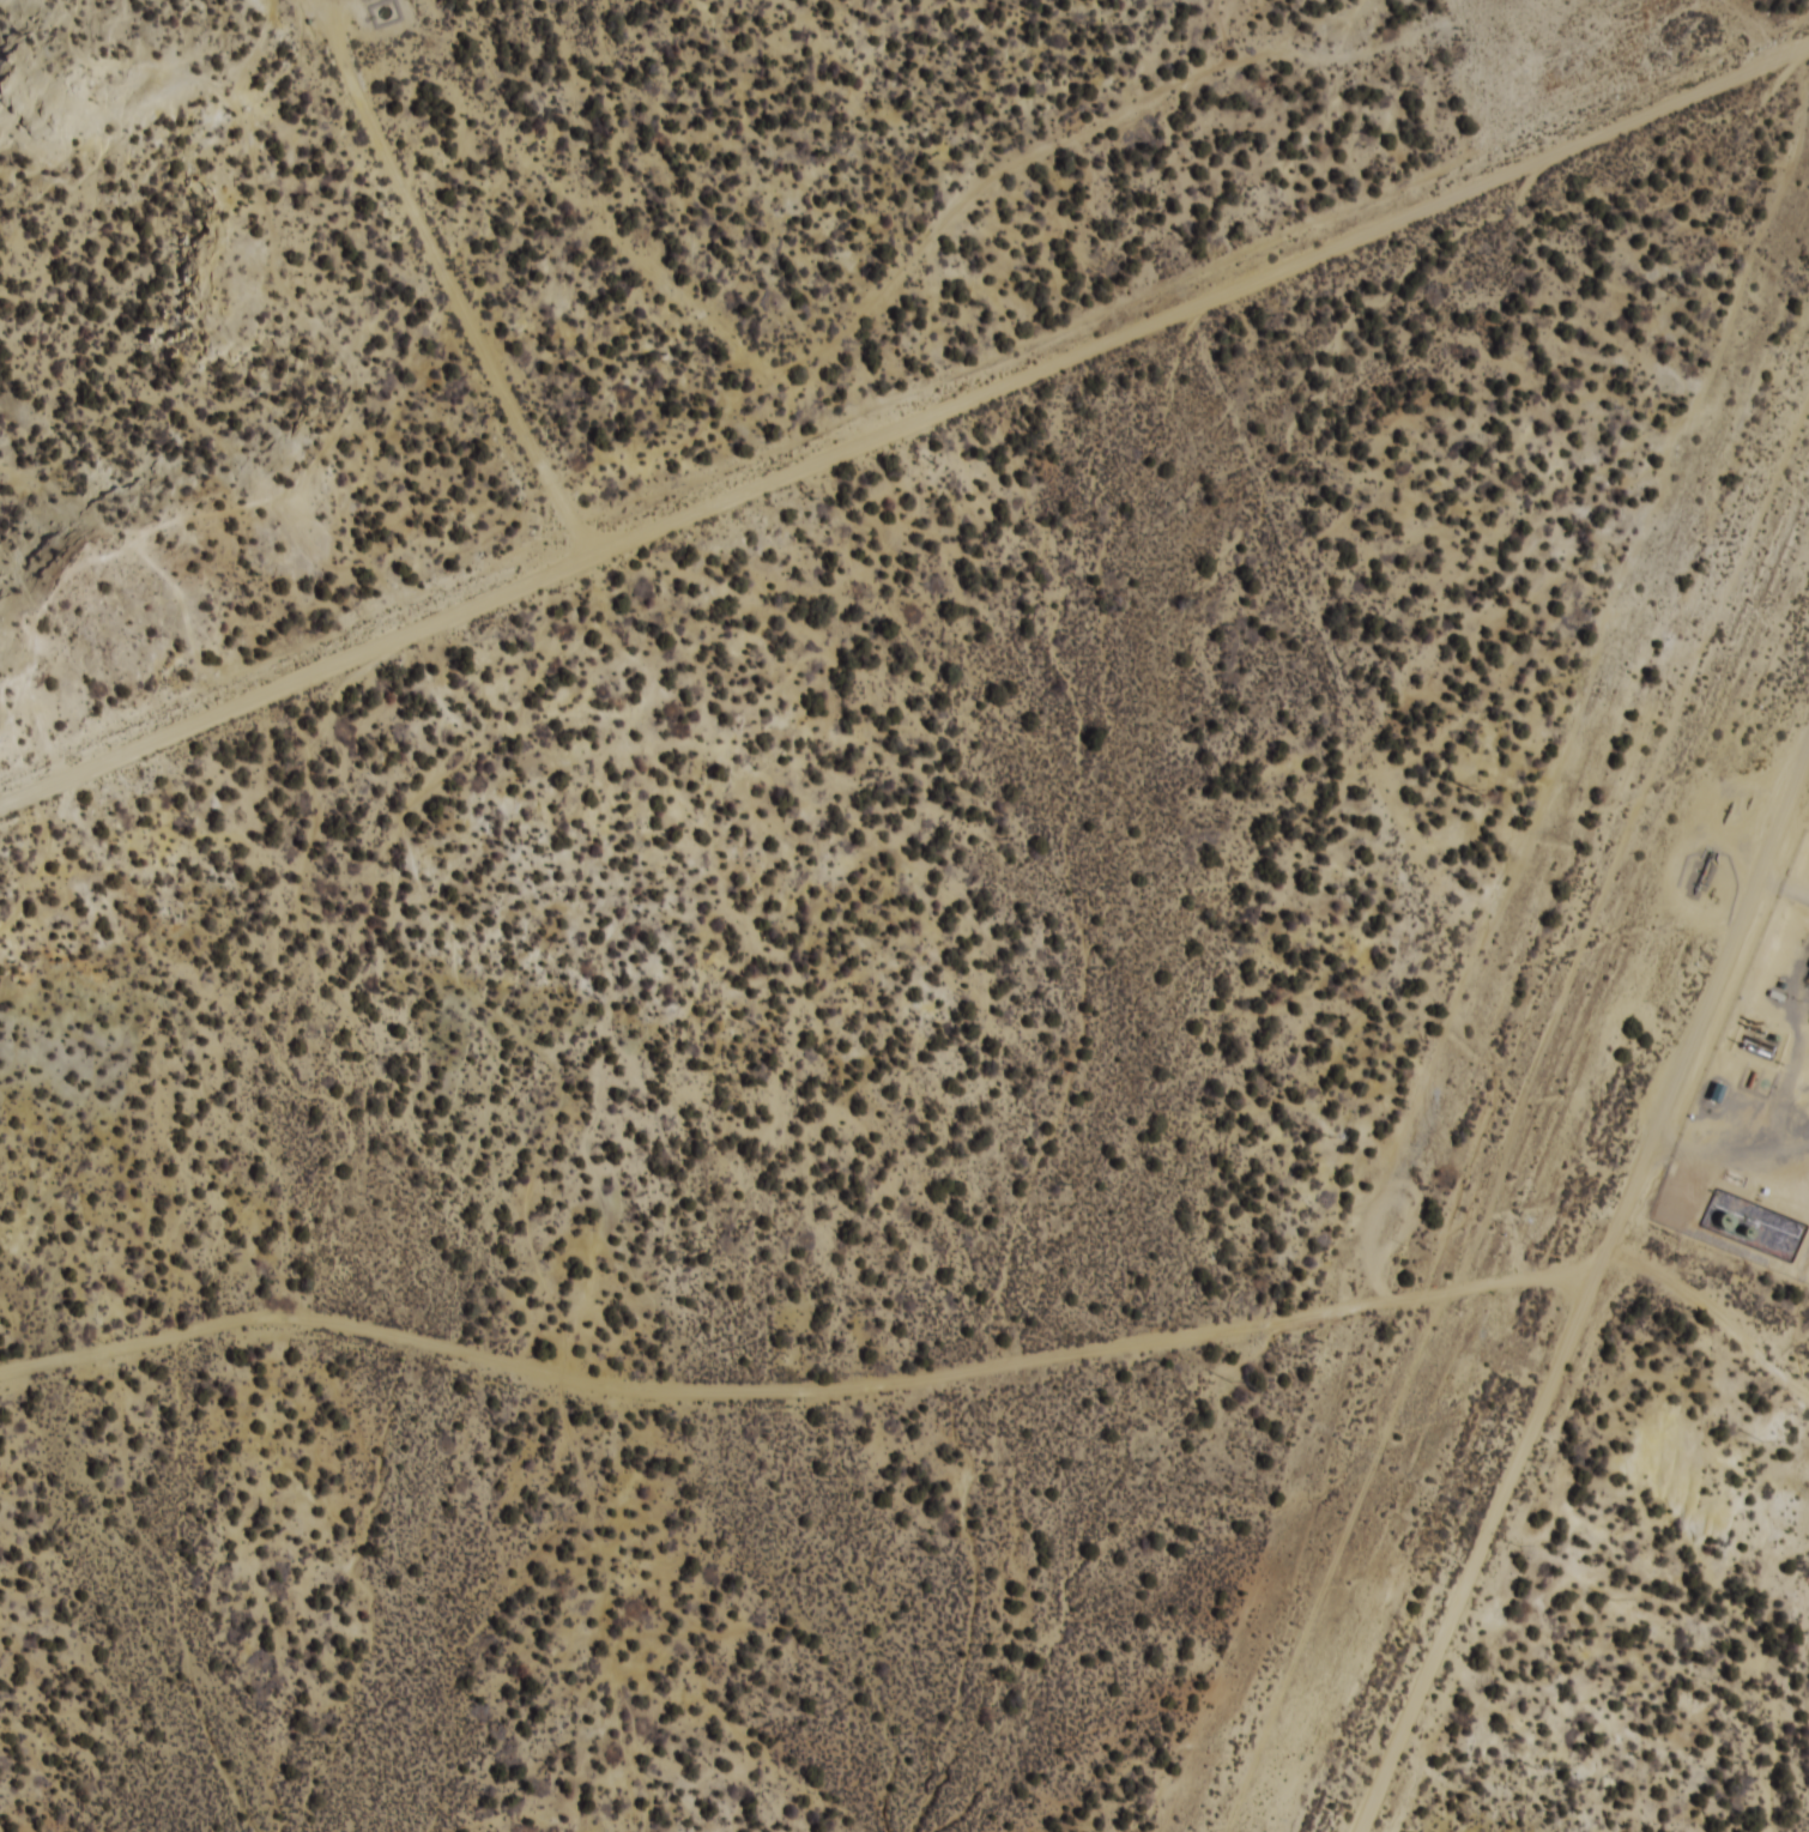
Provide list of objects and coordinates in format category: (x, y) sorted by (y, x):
road: (448, 283)
road: (903, 423)
road: (1589, 1293)
road: (926, 1377)

